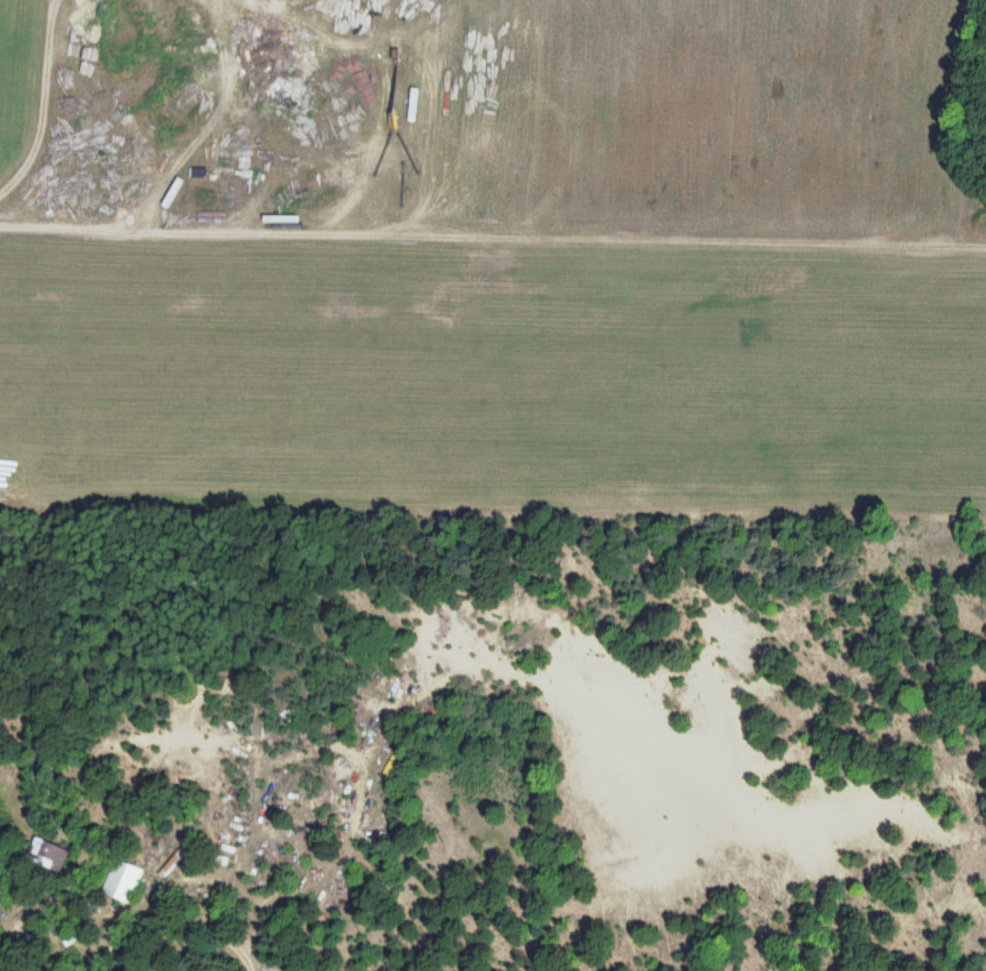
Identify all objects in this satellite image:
road: (86, 114)
road: (354, 117)
road: (492, 237)
building: (47, 854)
building: (124, 880)
road: (133, 898)

